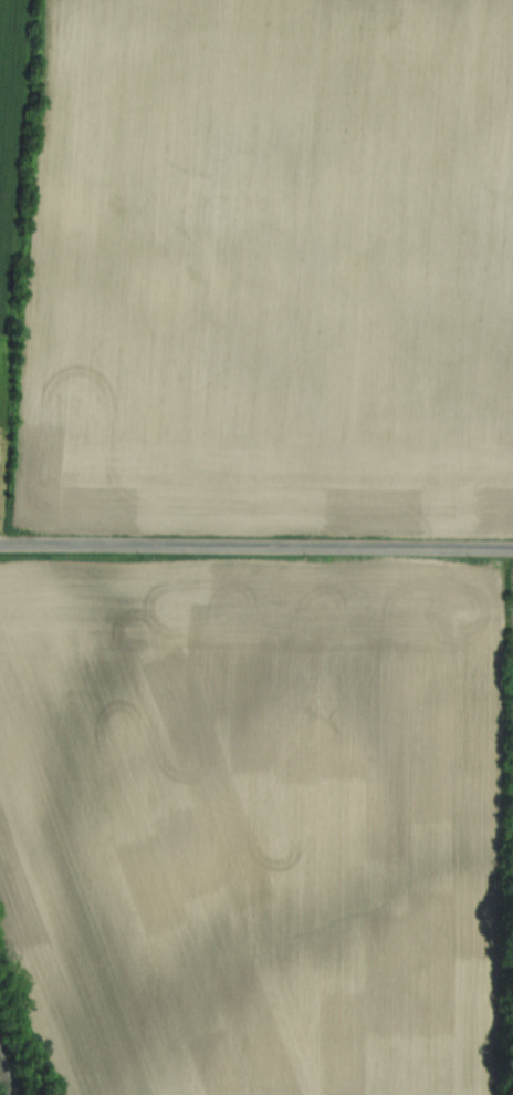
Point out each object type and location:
road: (255, 547)
railway: (9, 1070)

